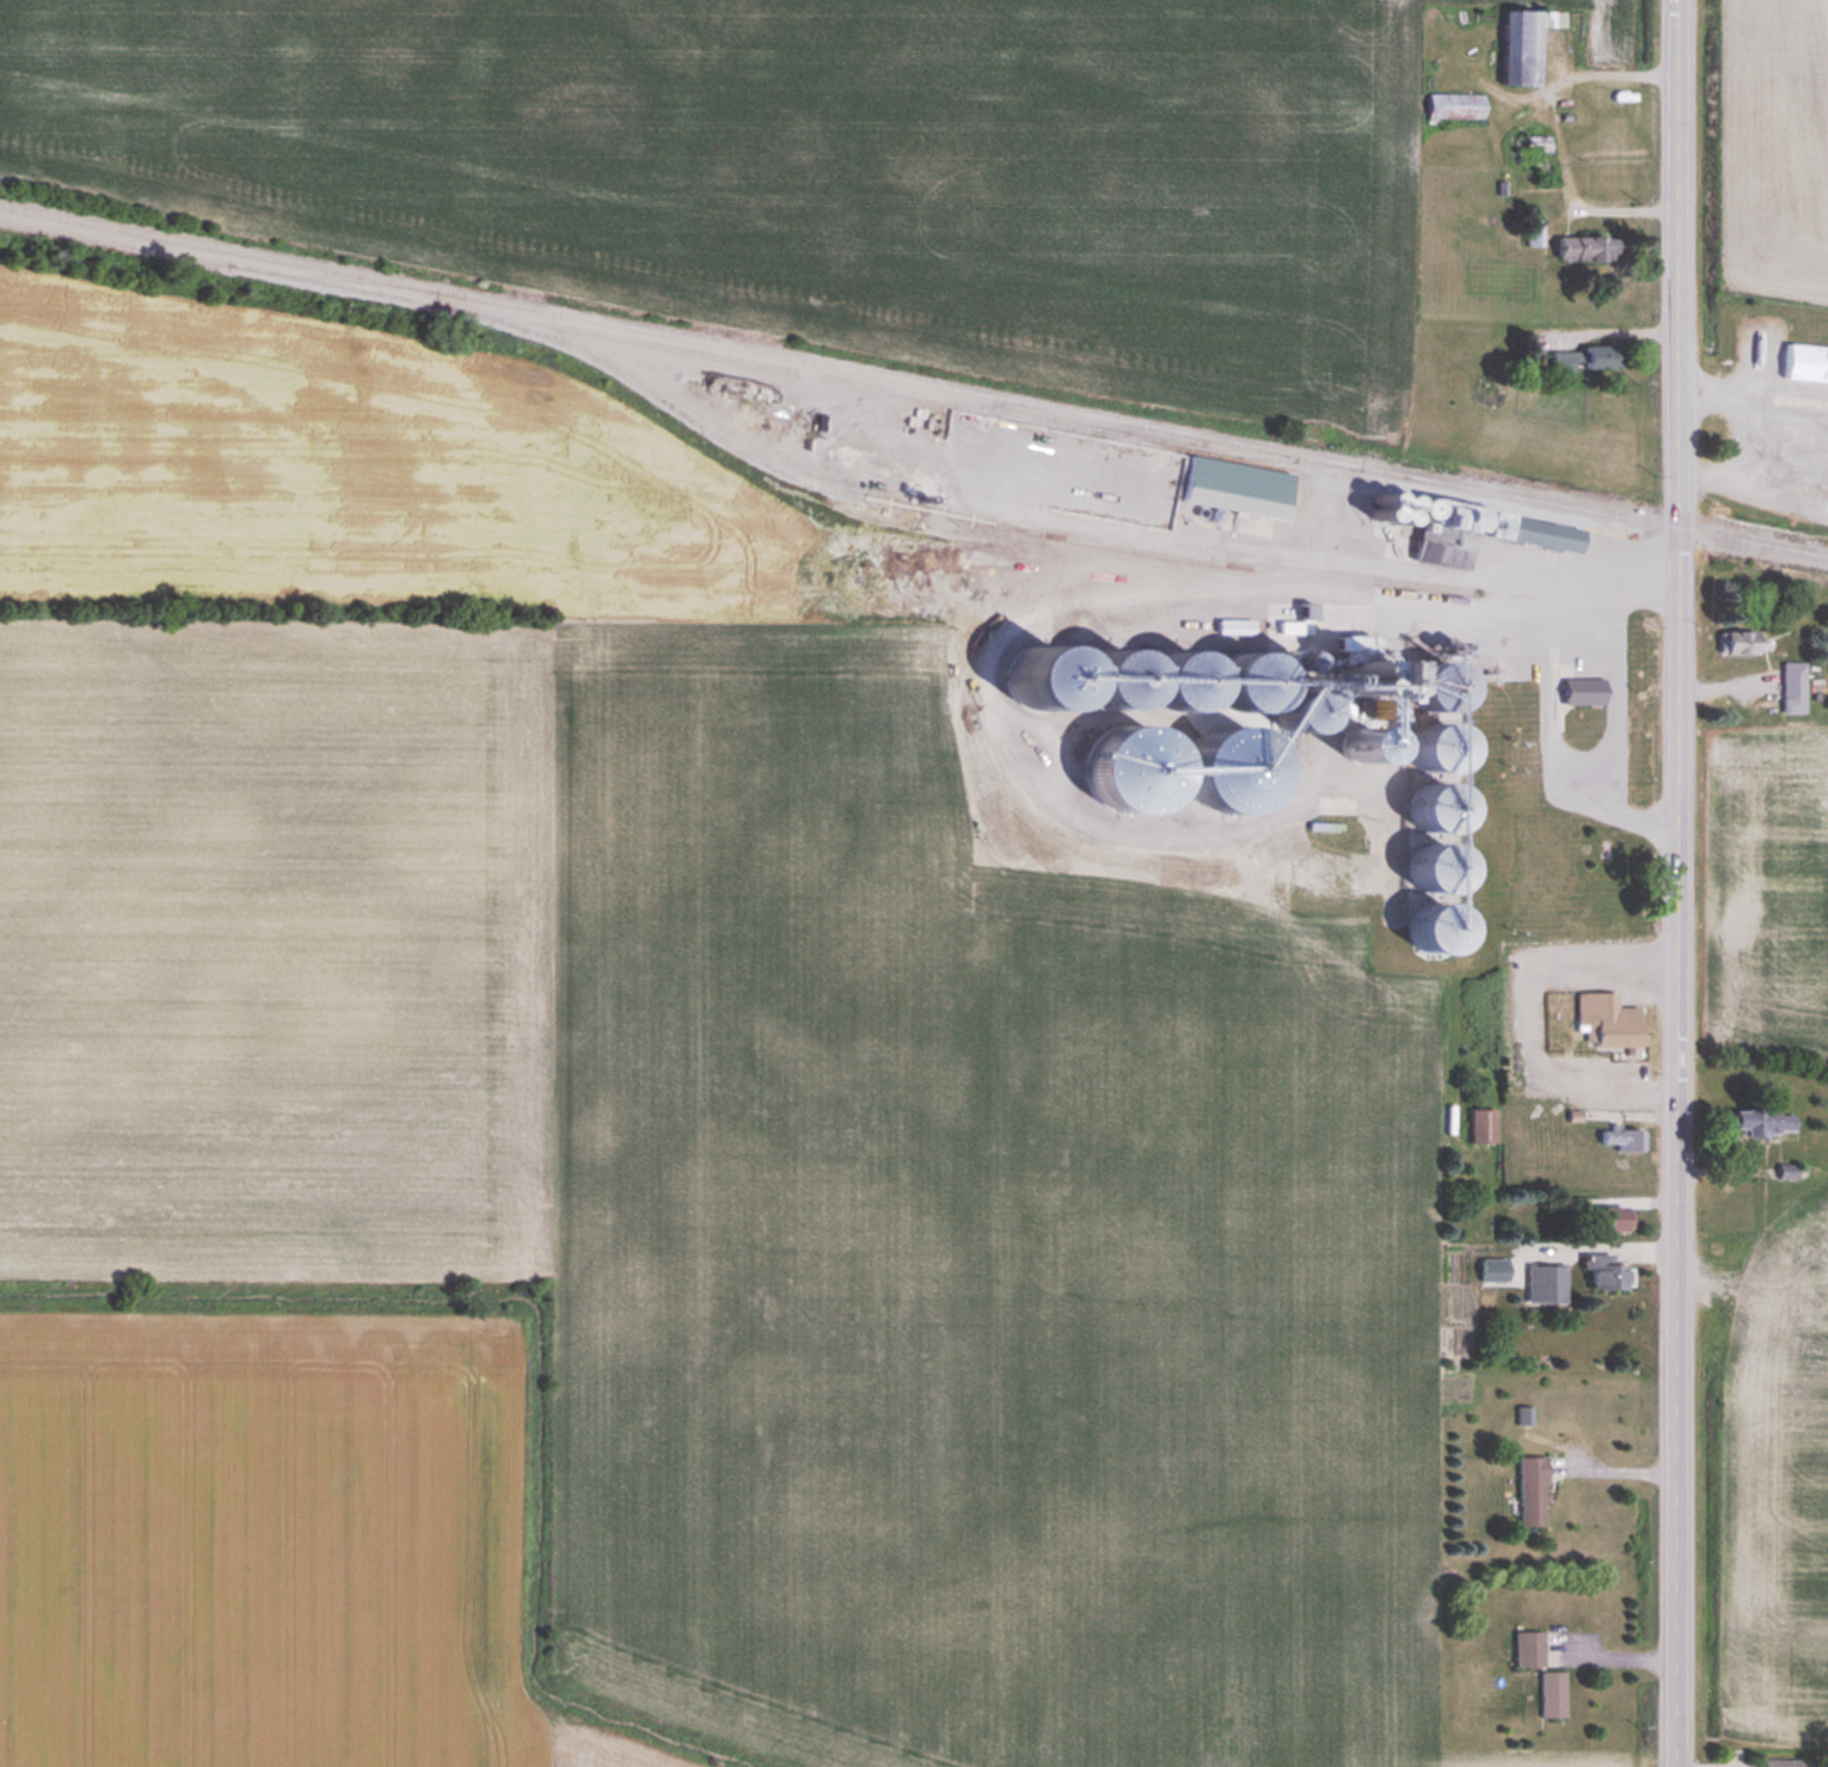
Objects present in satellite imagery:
building: (1525, 45)
building: (1455, 106)
building: (1532, 149)
building: (1585, 250)
building: (1601, 356)
building: (1565, 361)
building: (1806, 361)
railway: (913, 384)
building: (1237, 485)
railway: (878, 501)
building: (1471, 517)
building: (1541, 533)
building: (1741, 640)
building: (1110, 680)
building: (1793, 686)
building: (1583, 691)
building: (1190, 693)
building: (1300, 710)
road: (1680, 883)
building: (1431, 927)
building: (1608, 1019)
building: (1763, 1121)
building: (1482, 1125)
building: (1622, 1137)
building: (1607, 1214)
building: (1605, 1270)
building: (1545, 1282)
road: (1613, 1466)
building: (1532, 1490)
building: (1527, 1649)
building: (1551, 1694)
building: (1779, 1762)

